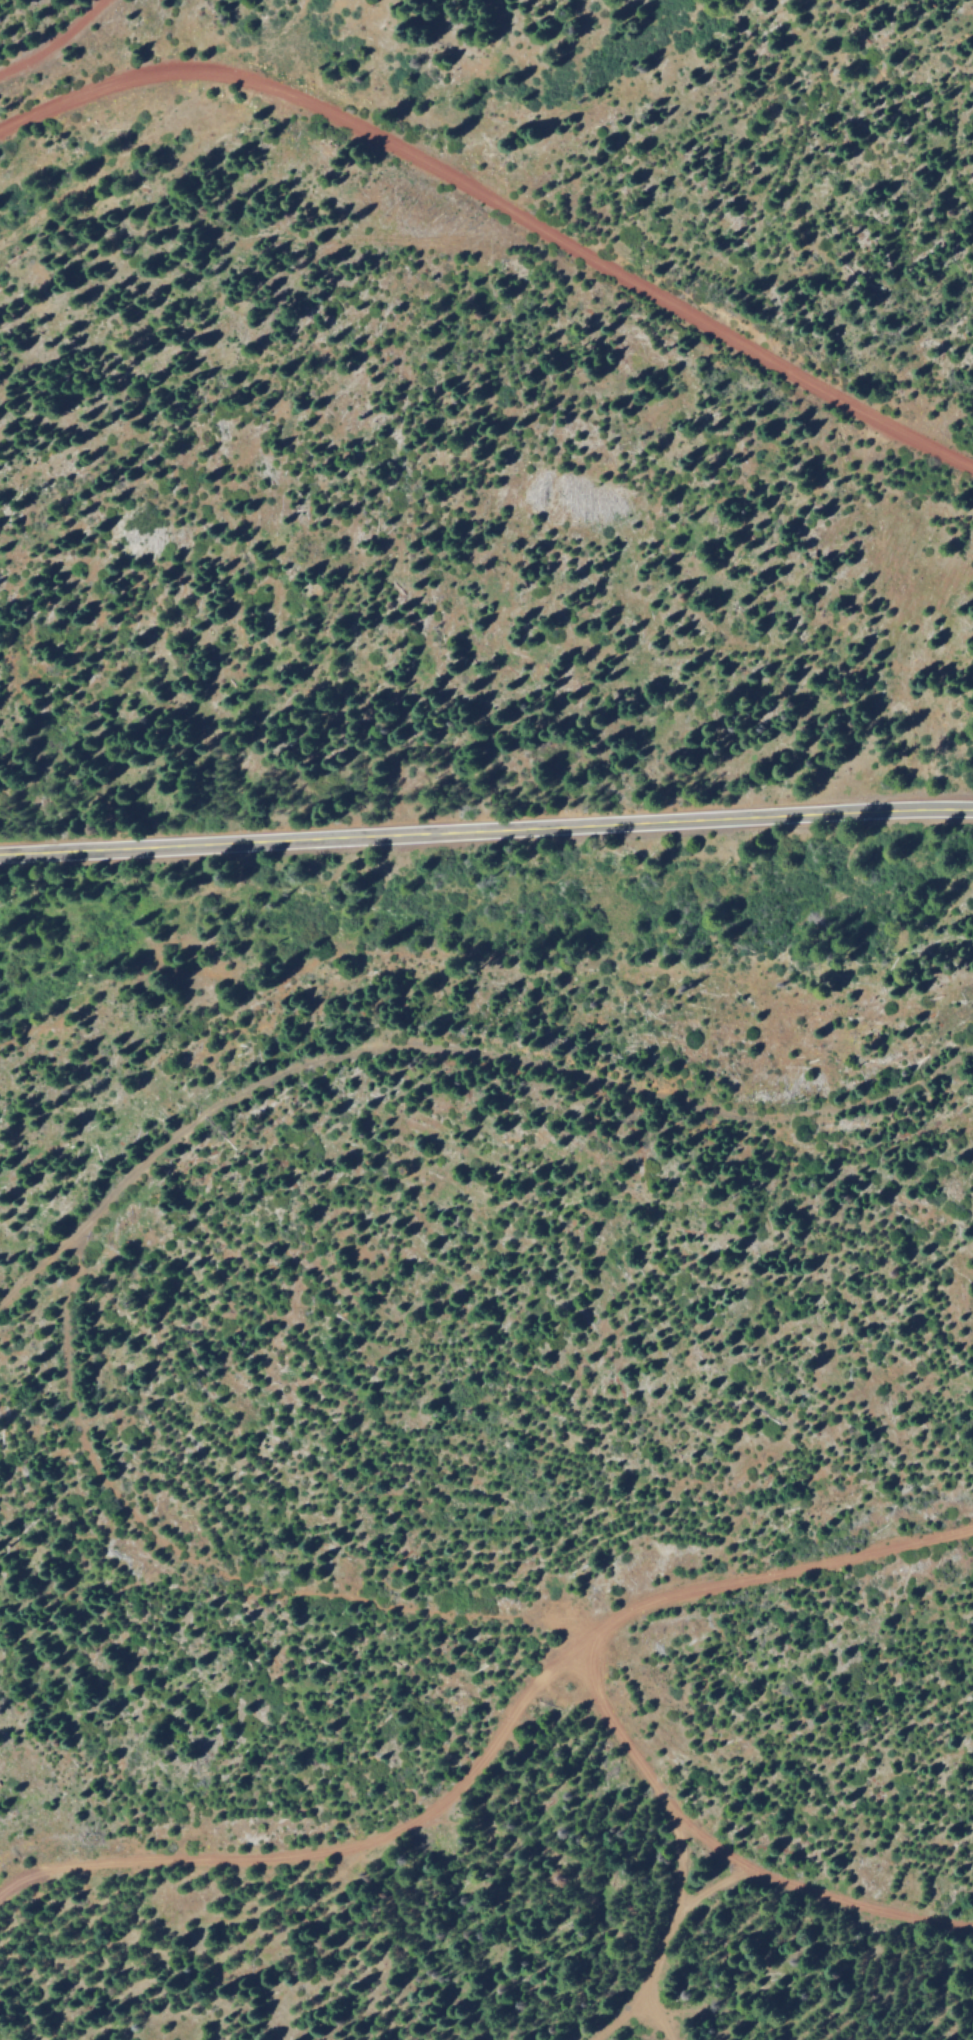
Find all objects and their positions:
road: (50, 40)
road: (442, 172)
road: (918, 436)
road: (486, 827)
road: (451, 1044)
road: (800, 1572)
road: (602, 1636)
road: (522, 1715)
road: (666, 1931)
road: (653, 2016)

